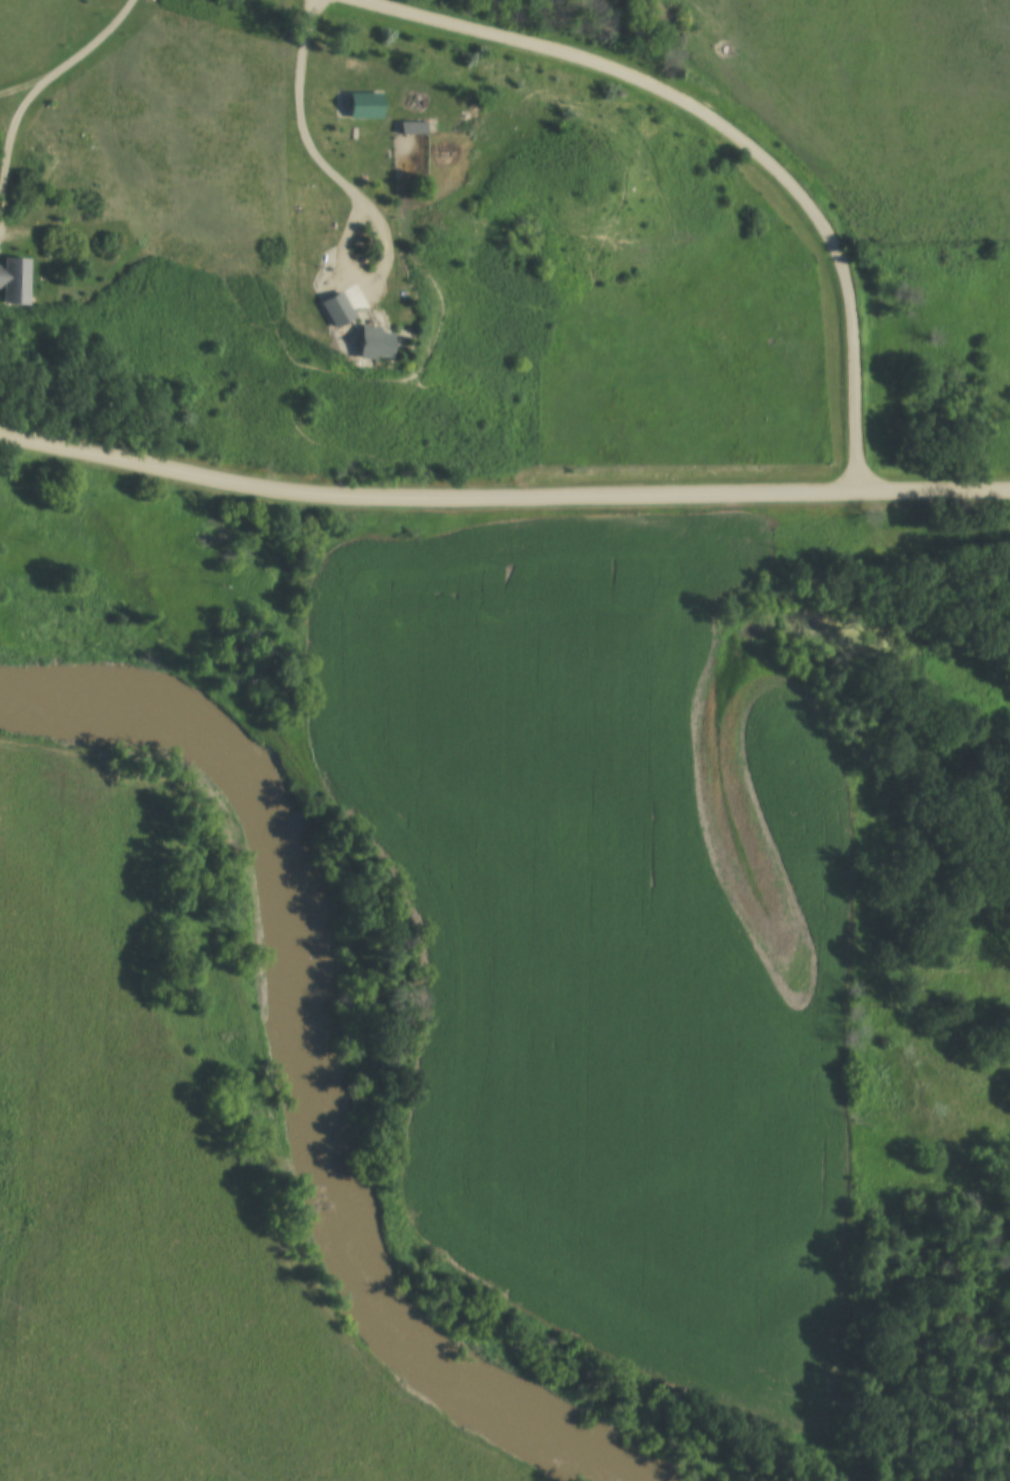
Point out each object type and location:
road: (91, 42)
road: (22, 82)
road: (295, 108)
road: (10, 121)
building: (412, 126)
building: (456, 126)
road: (731, 135)
road: (364, 278)
building: (15, 279)
building: (337, 308)
building: (375, 342)
road: (501, 494)
river: (314, 1070)

